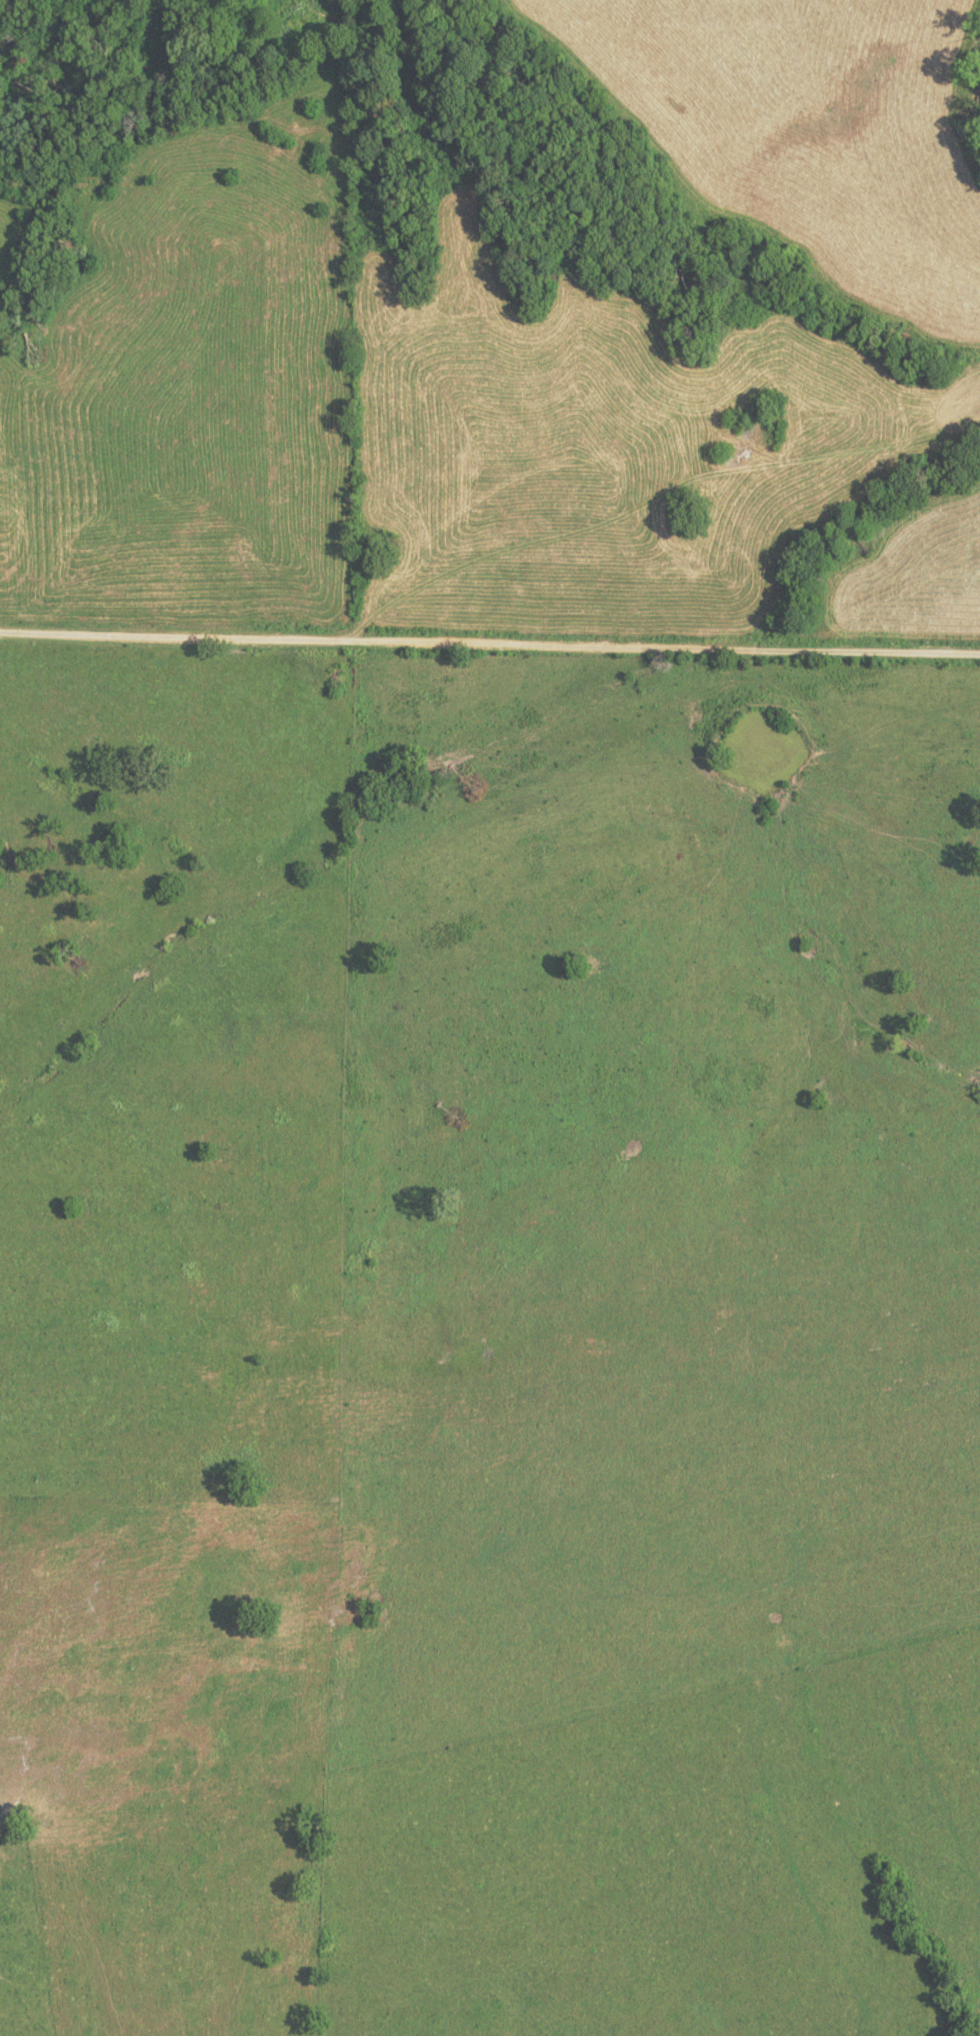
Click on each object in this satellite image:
road: (490, 639)

